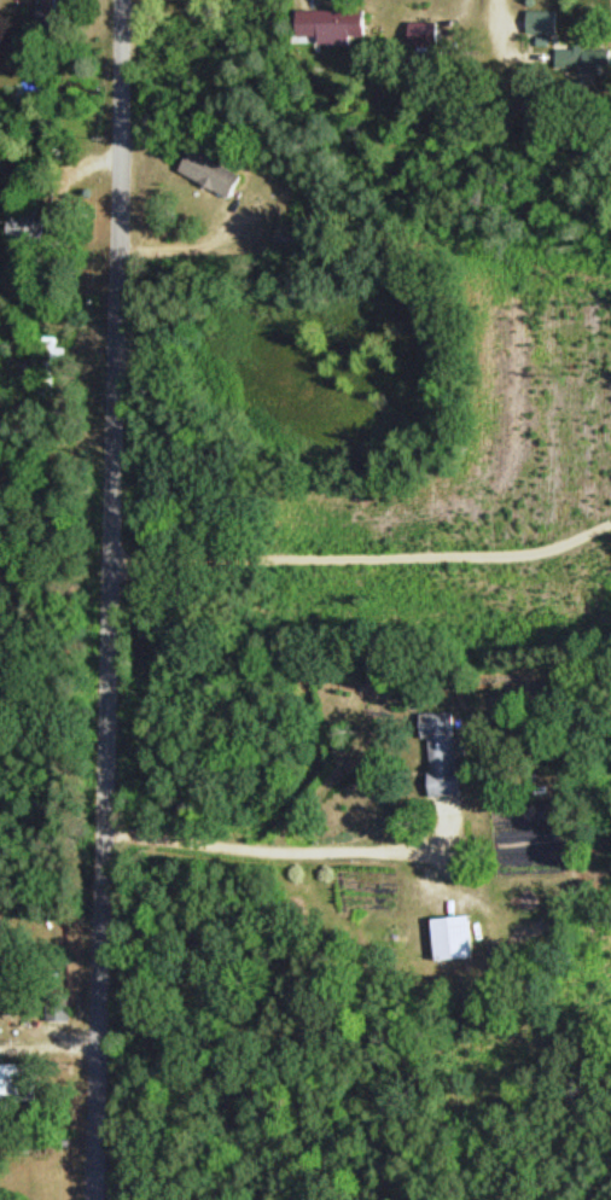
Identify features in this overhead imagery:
building: (62, 13)
building: (546, 21)
building: (334, 25)
building: (427, 31)
building: (586, 58)
building: (217, 171)
building: (28, 225)
building: (63, 231)
building: (54, 362)
road: (115, 600)
building: (450, 761)
building: (459, 936)
building: (2, 967)
building: (22, 1083)

